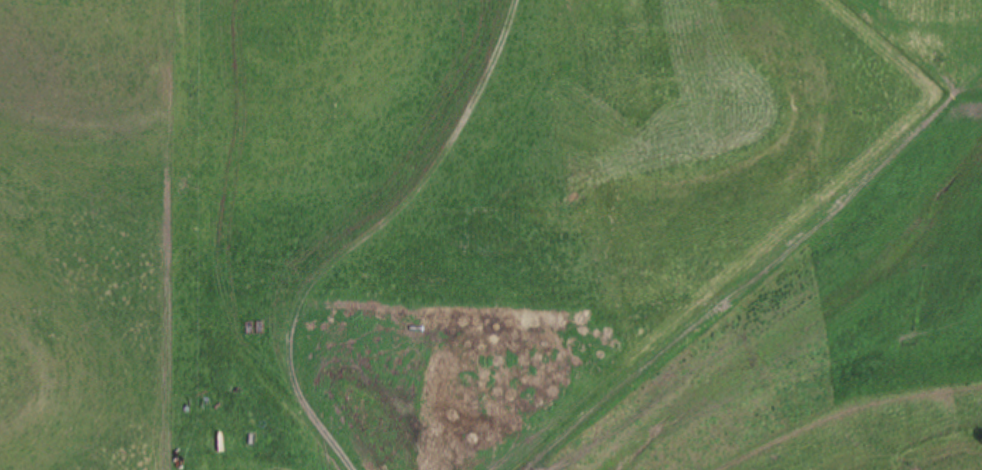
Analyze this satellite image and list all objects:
river: (835, 320)

